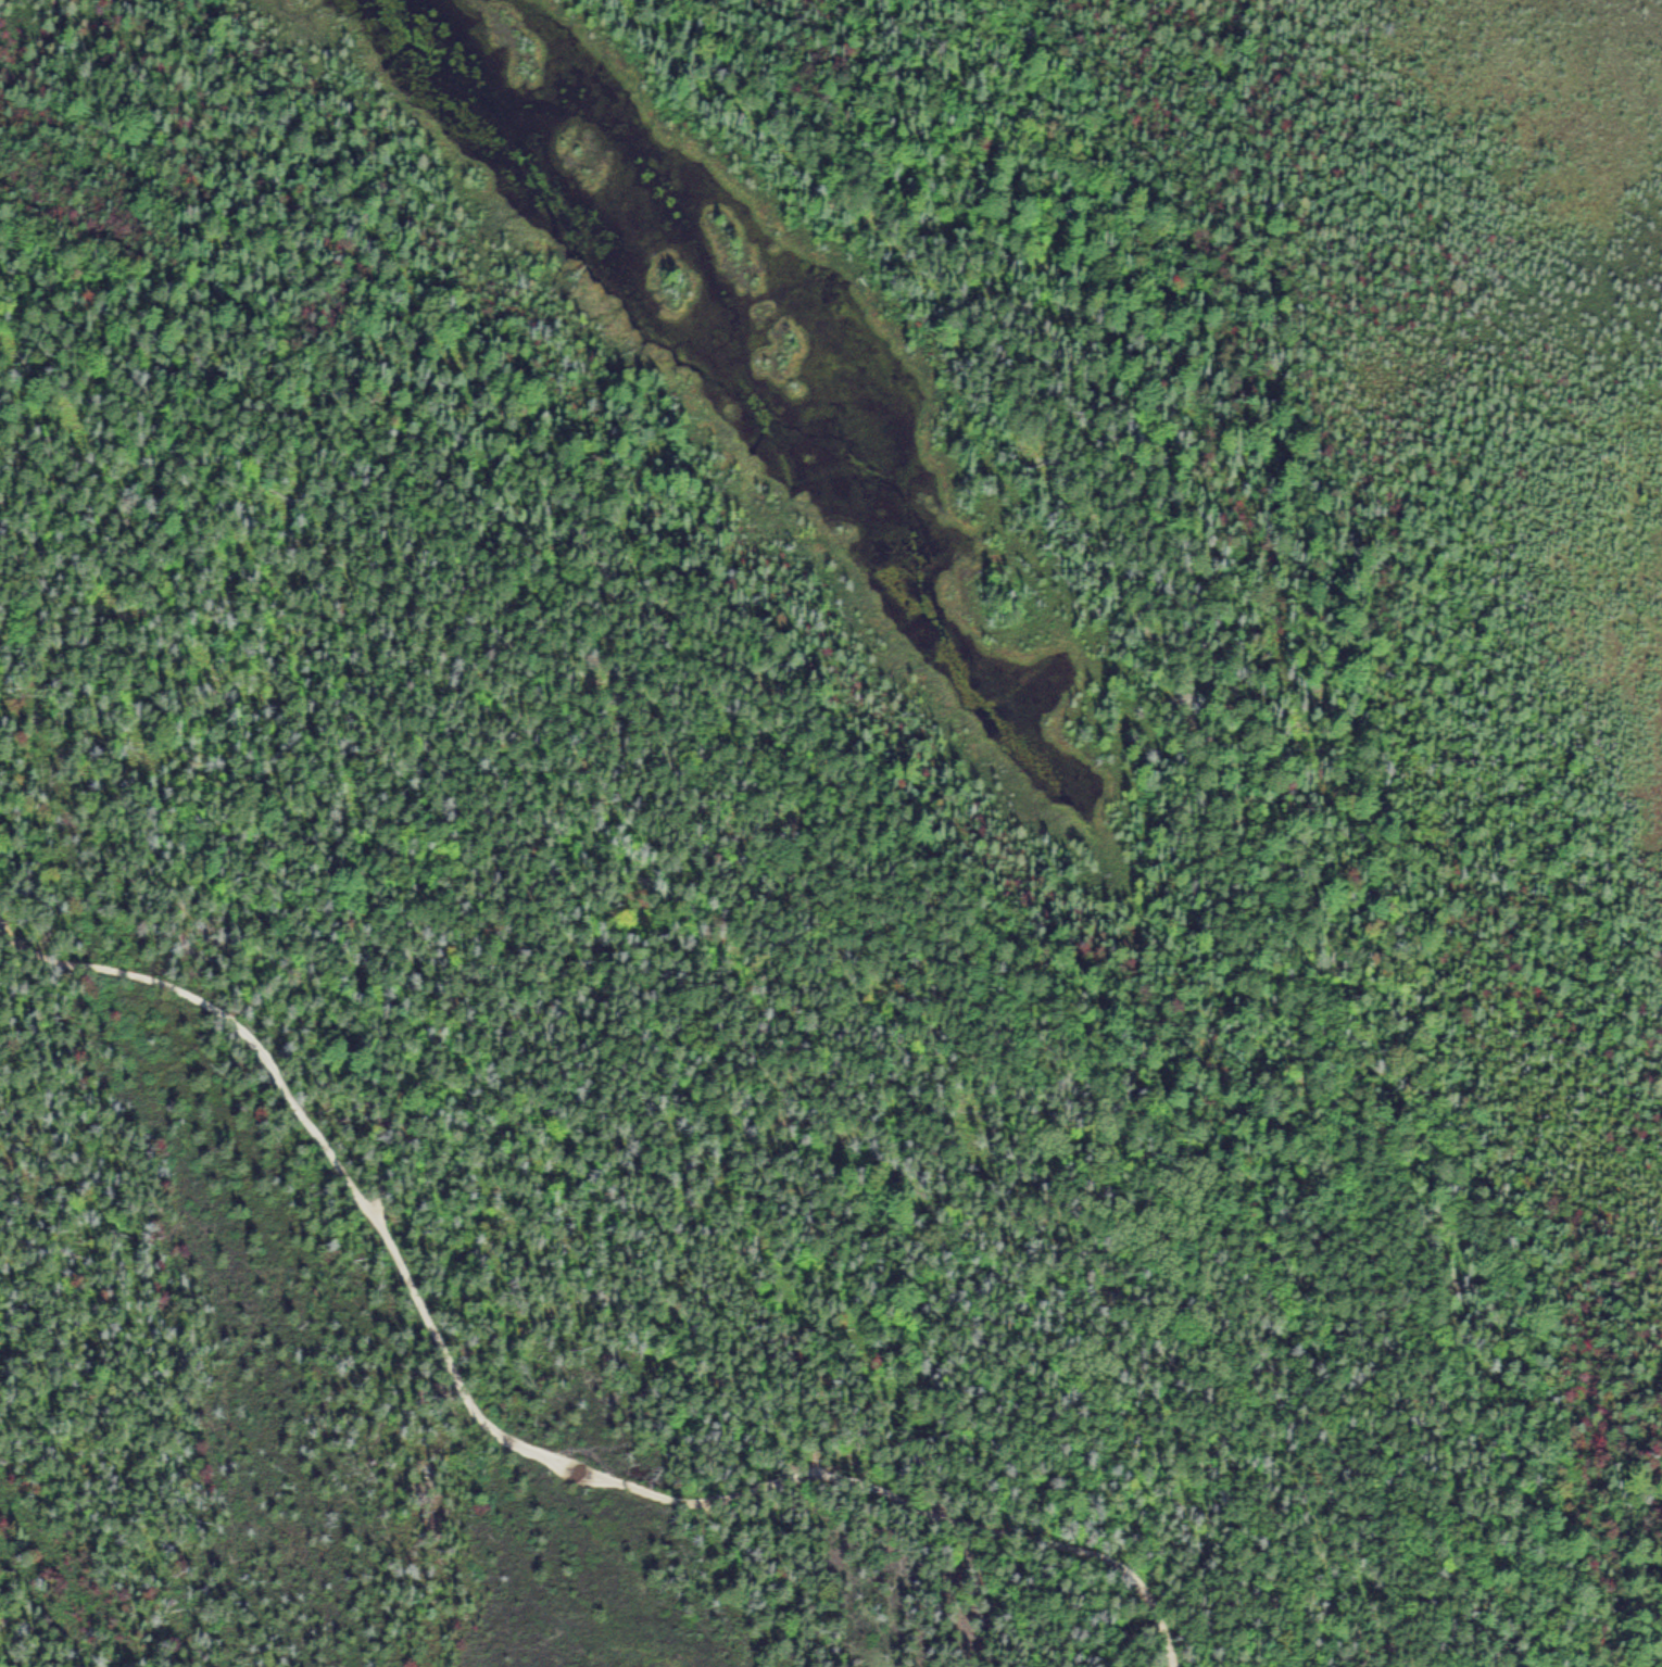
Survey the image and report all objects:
road: (511, 1434)

